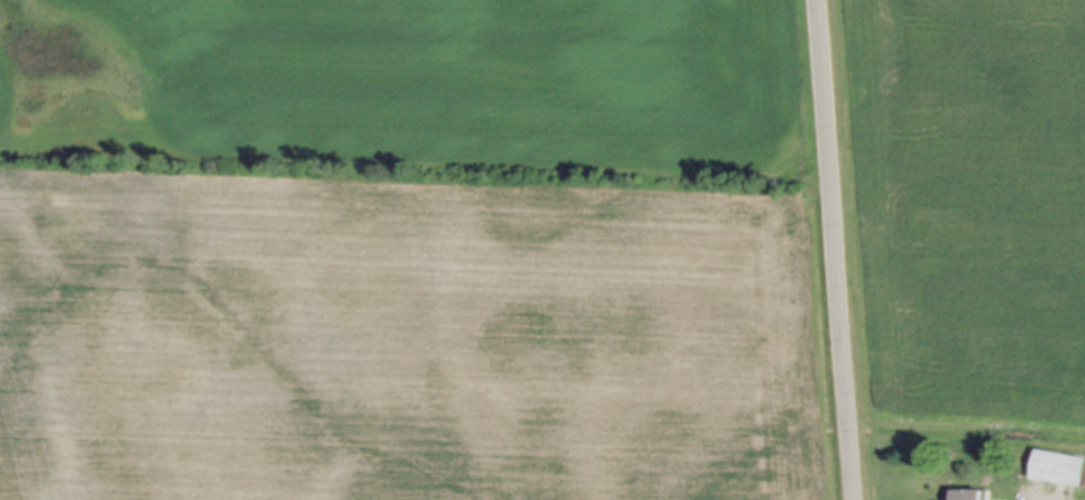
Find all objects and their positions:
road: (835, 250)
building: (1058, 465)
building: (969, 492)

